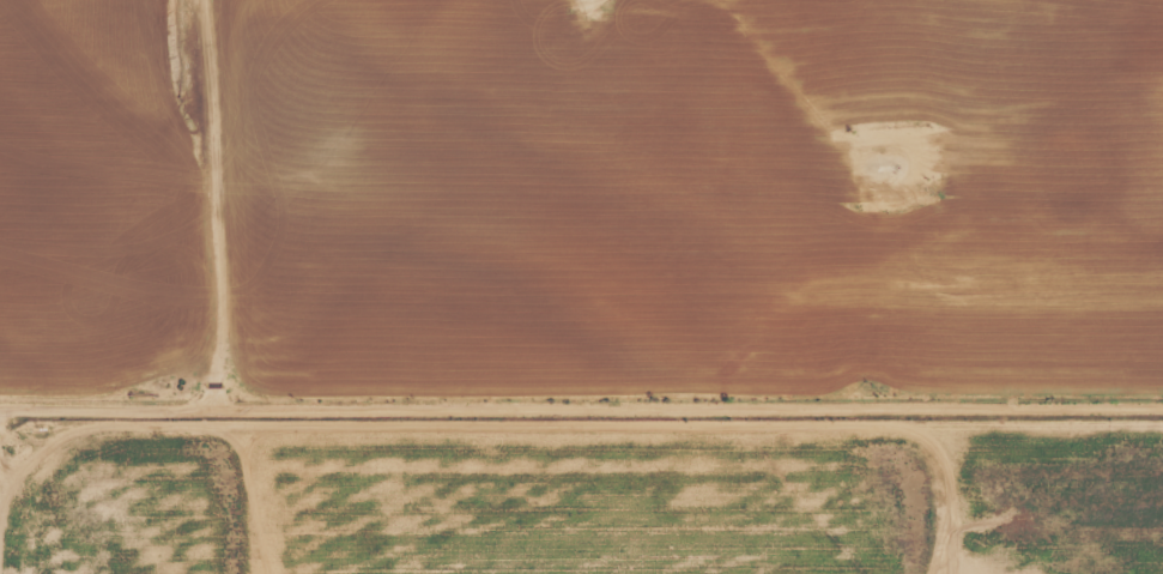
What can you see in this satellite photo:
road: (184, 191)
road: (581, 379)

